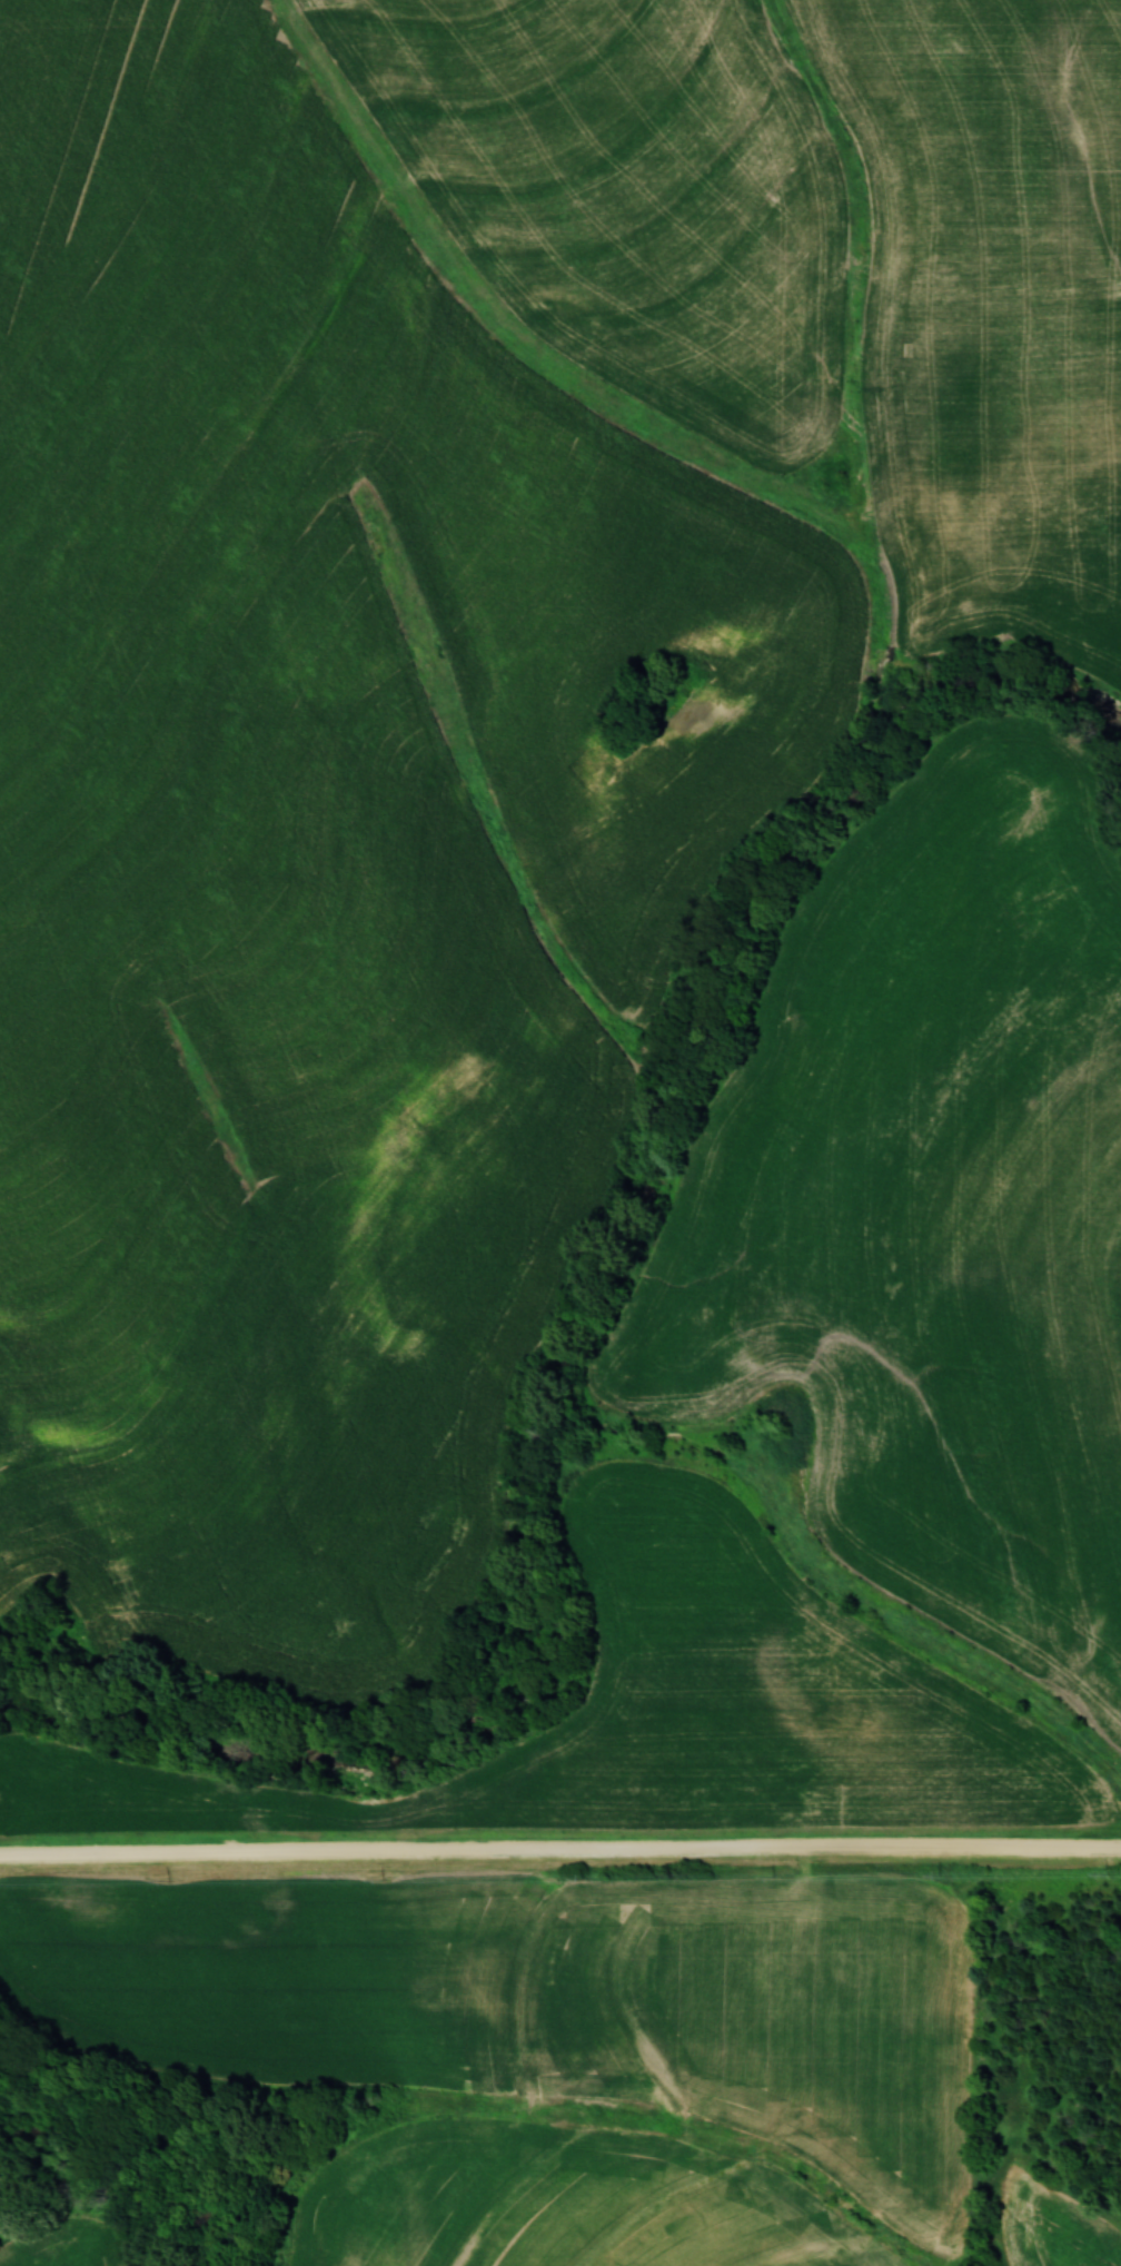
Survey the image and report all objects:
road: (560, 1854)

